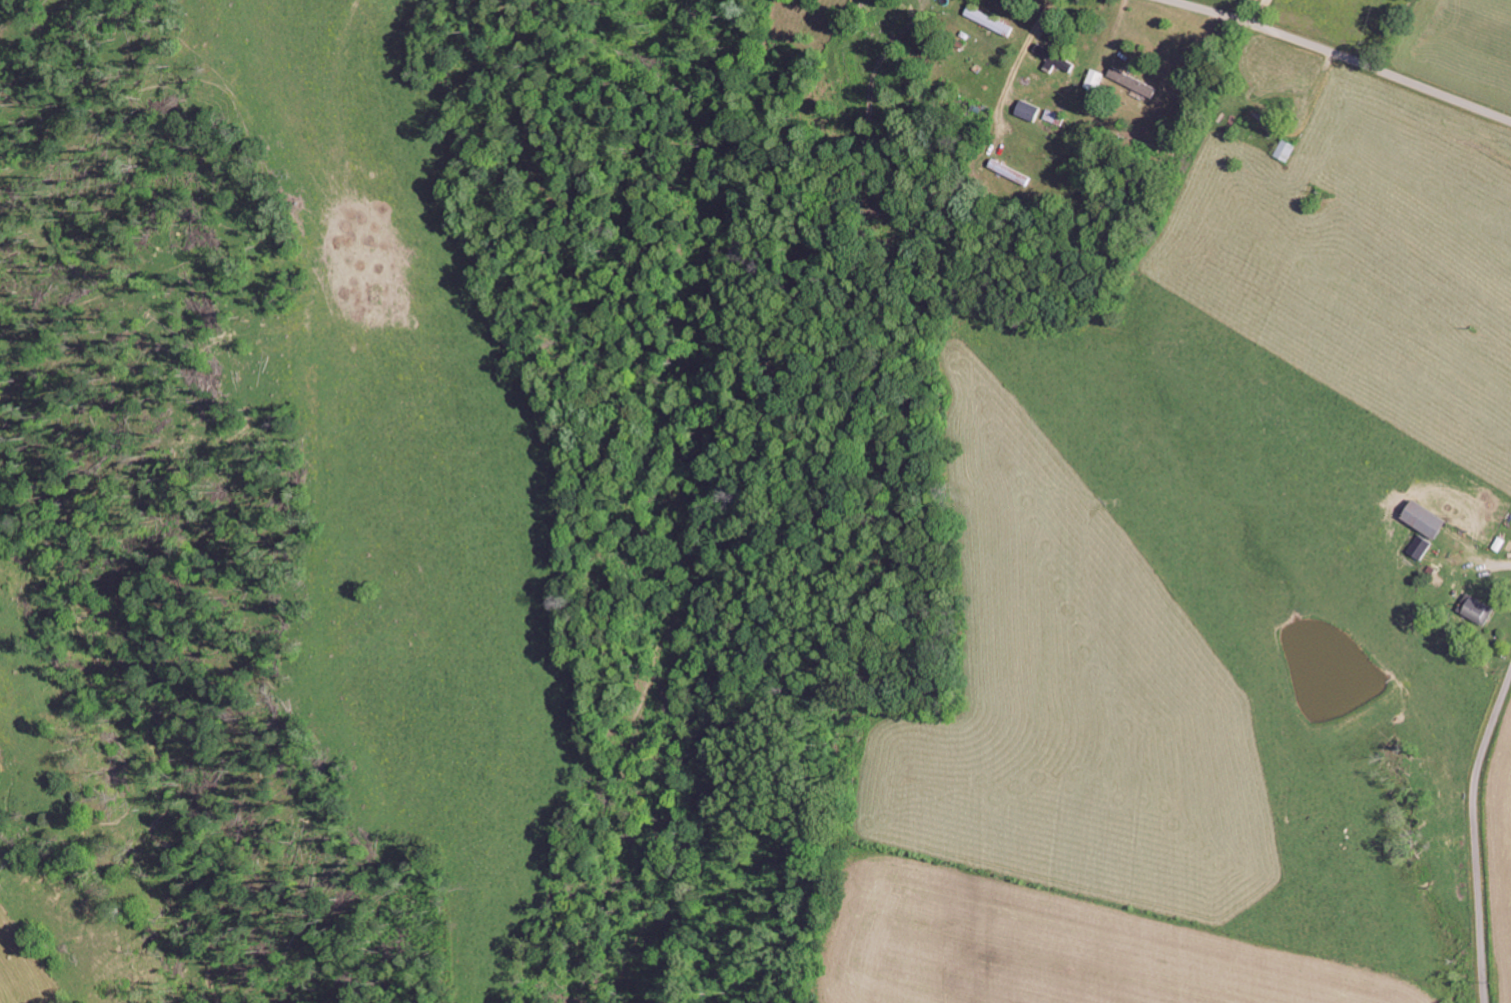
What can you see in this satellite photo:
road: (1322, 21)
building: (1052, 57)
road: (1340, 57)
building: (1132, 82)
road: (960, 98)
building: (1026, 109)
building: (1283, 149)
building: (1423, 518)
building: (1418, 546)
building: (1476, 609)
road: (1472, 834)

